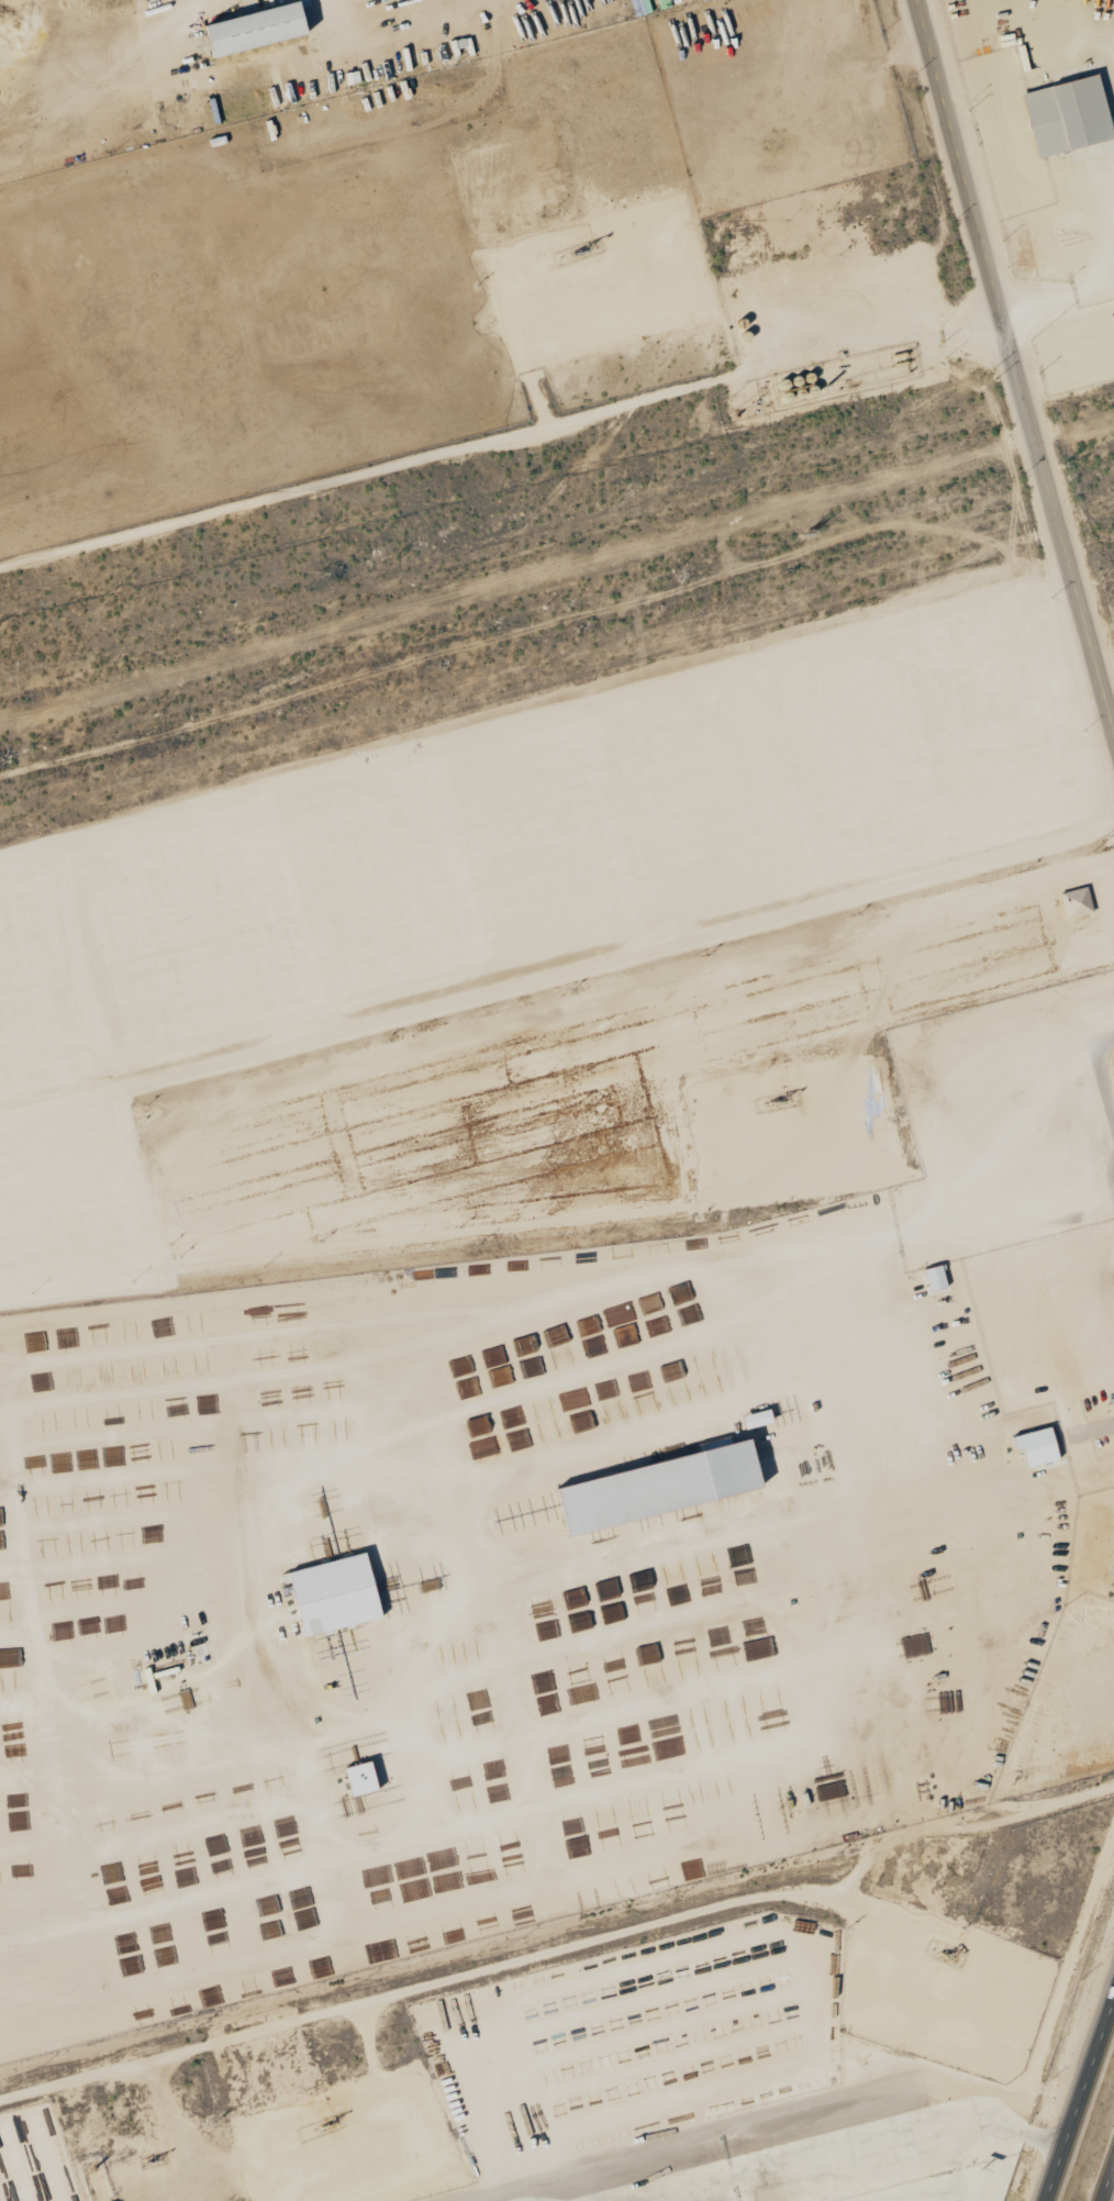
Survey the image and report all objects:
building: (257, 30)
building: (1068, 116)
road: (1059, 296)
road: (1016, 359)
road: (501, 436)
building: (1077, 902)
road: (1101, 1079)
petroleum well: (770, 1091)
building: (936, 1277)
building: (757, 1419)
building: (1037, 1446)
building: (660, 1487)
building: (335, 1593)
building: (361, 1778)
road: (1089, 2081)
road: (1112, 2164)
road: (1056, 2178)
road: (1104, 2186)

